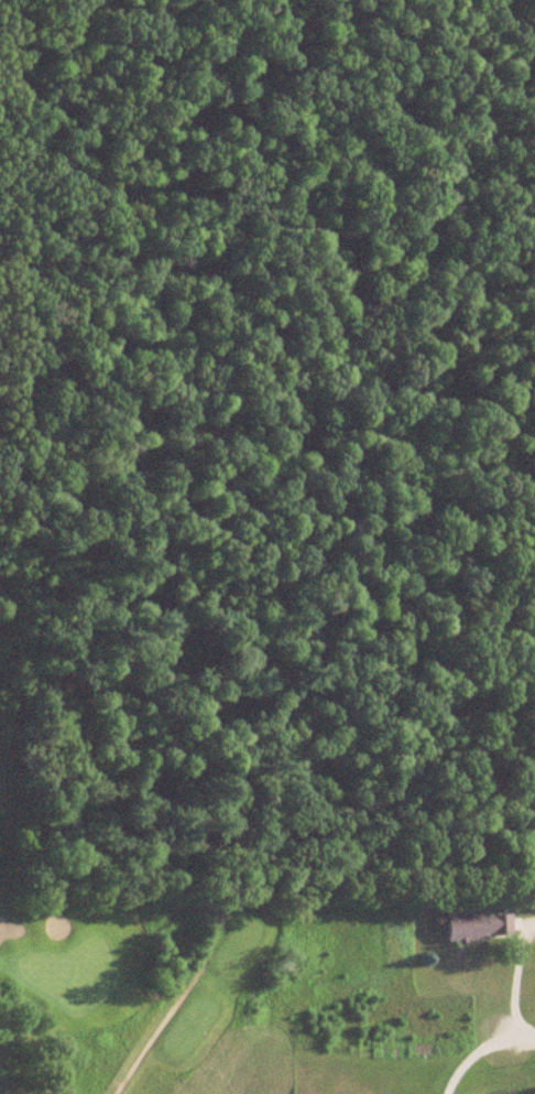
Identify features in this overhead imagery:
building: (476, 927)
park: (138, 977)
road: (522, 1027)
road: (468, 1053)

